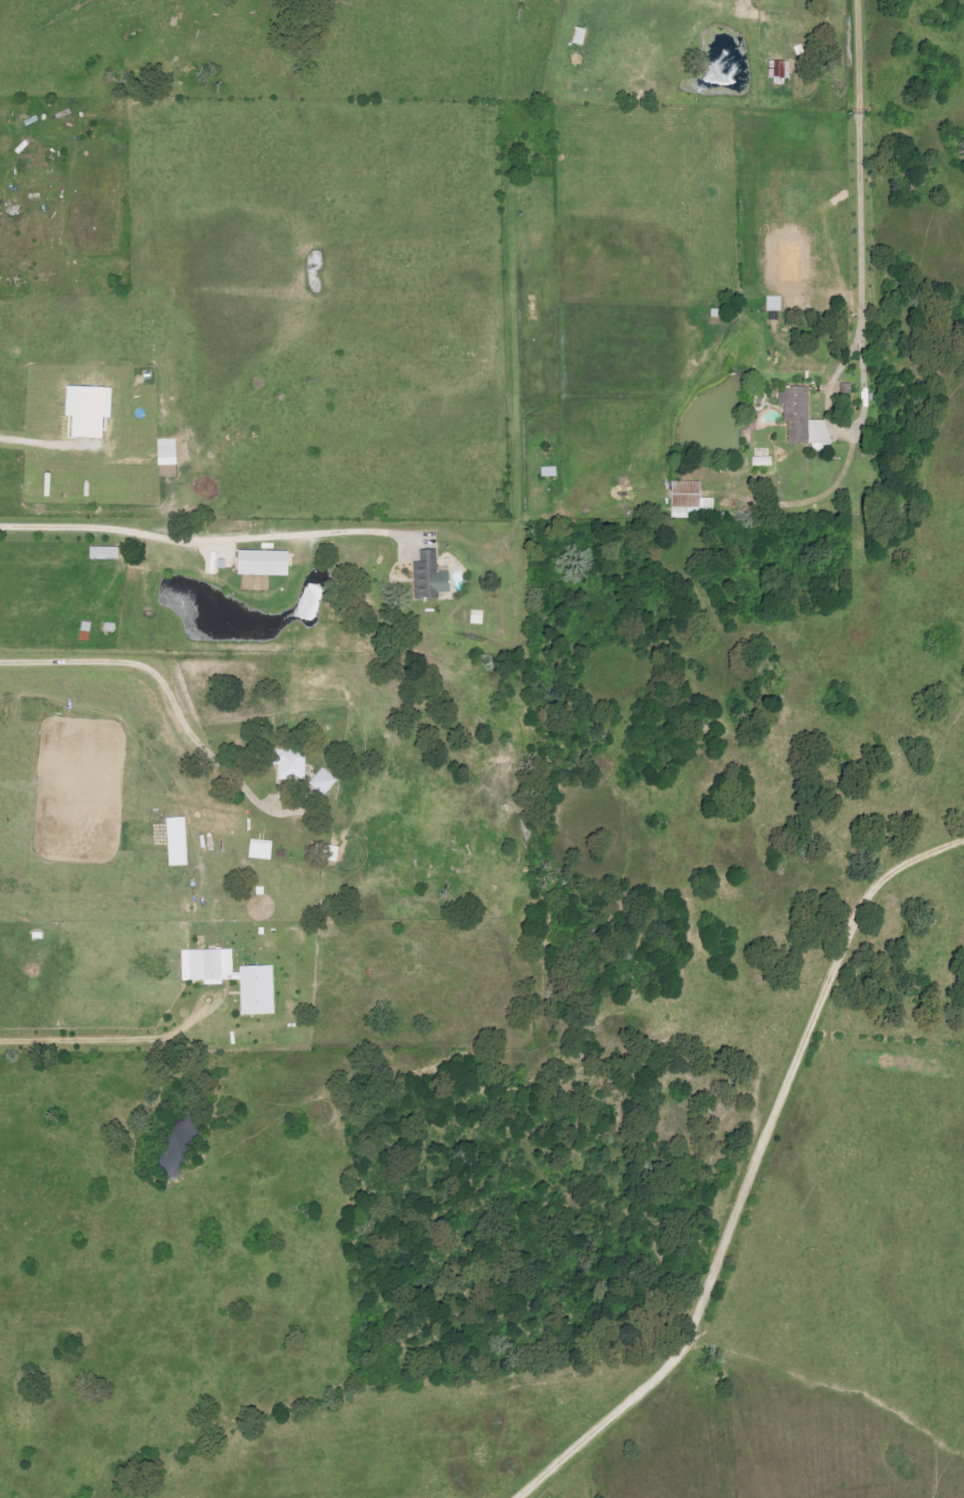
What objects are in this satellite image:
road: (856, 49)
building: (778, 69)
building: (771, 303)
road: (858, 318)
building: (84, 393)
building: (793, 413)
road: (38, 428)
building: (163, 451)
building: (685, 499)
road: (204, 539)
building: (100, 553)
building: (425, 560)
building: (258, 562)
road: (133, 651)
building: (292, 763)
building: (324, 781)
building: (179, 840)
building: (263, 849)
building: (329, 851)
building: (238, 977)
road: (117, 1039)

